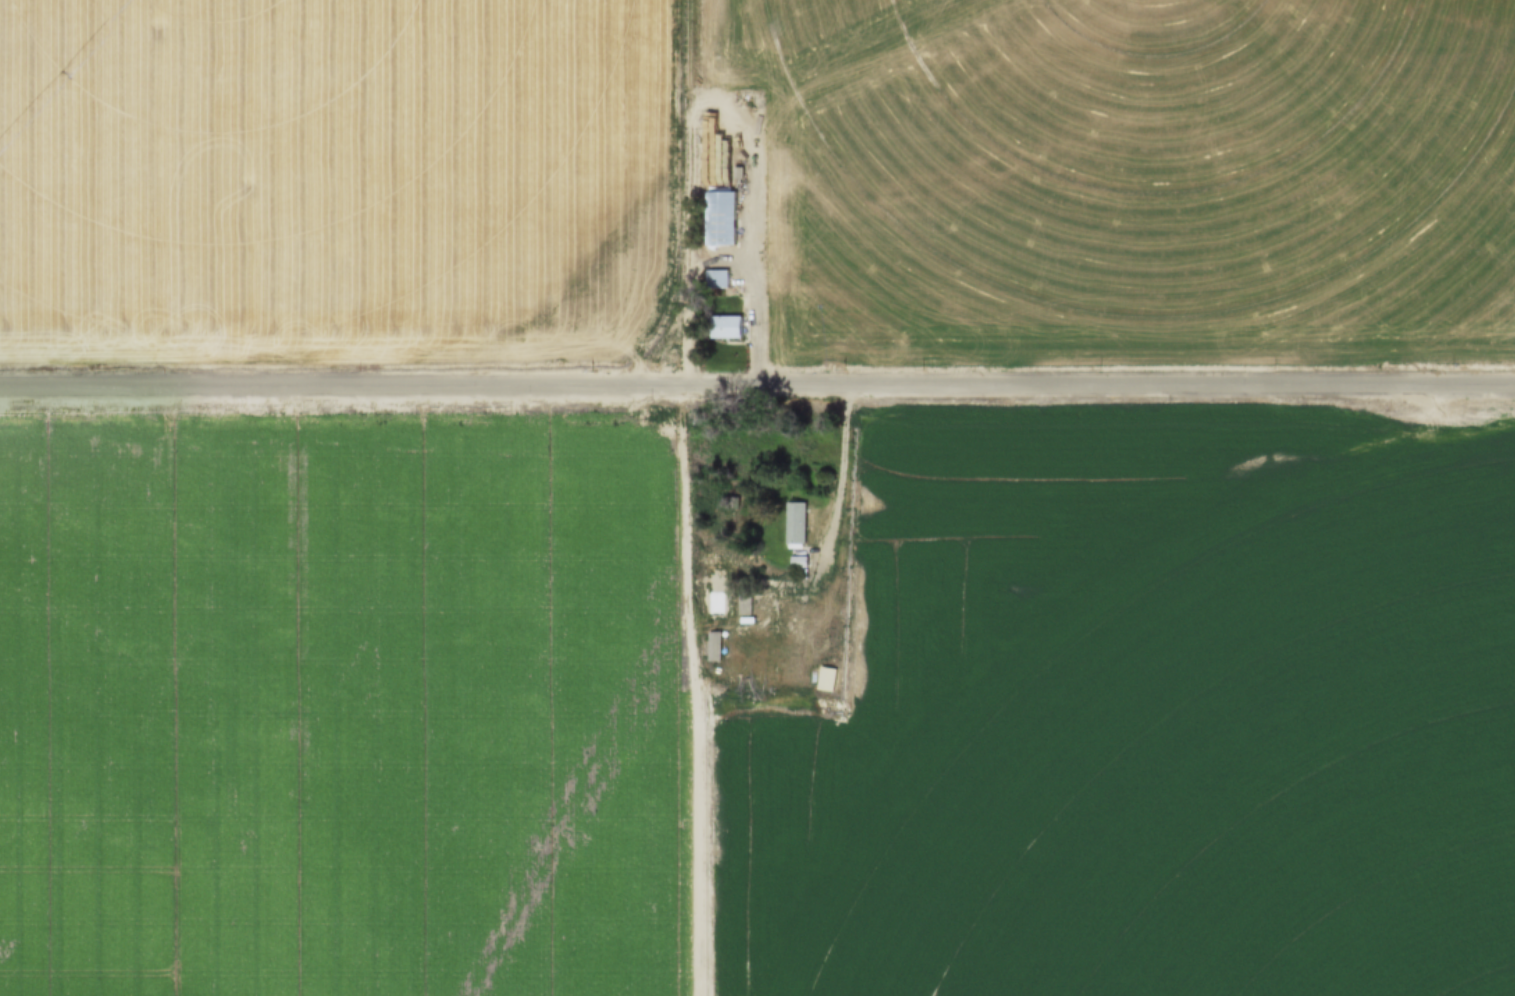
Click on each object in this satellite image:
road: (682, 57)
road: (706, 106)
building: (719, 218)
road: (714, 259)
building: (717, 278)
building: (725, 327)
road: (757, 385)
road: (830, 506)
building: (793, 522)
building: (796, 559)
building: (741, 600)
building: (711, 646)
road: (685, 679)

